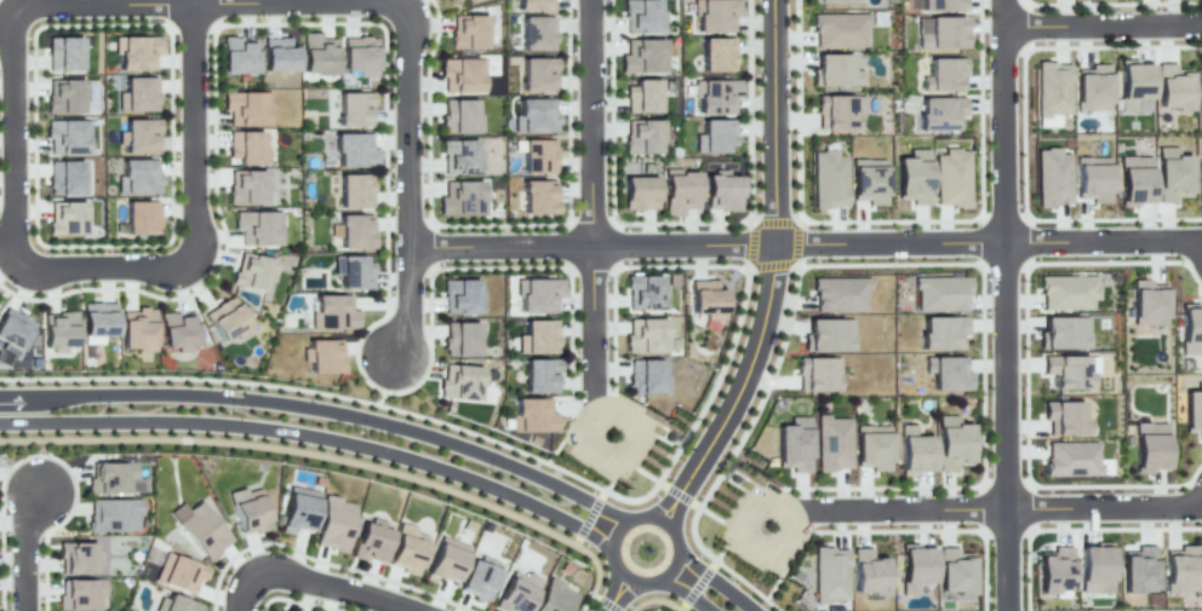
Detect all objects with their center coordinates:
building: (453, 1)
building: (835, 1)
road: (176, 2)
road: (195, 2)
road: (285, 2)
road: (1114, 4)
road: (87, 5)
building: (532, 5)
building: (941, 5)
road: (1004, 11)
building: (712, 16)
building: (641, 17)
road: (1103, 27)
building: (838, 29)
building: (944, 31)
building: (468, 33)
building: (537, 33)
building: (137, 52)
building: (63, 53)
building: (316, 53)
building: (277, 54)
building: (359, 54)
building: (716, 54)
building: (237, 56)
building: (642, 56)
building: (834, 70)
building: (944, 73)
building: (462, 74)
building: (537, 75)
building: (1132, 83)
building: (1201, 85)
building: (1172, 87)
building: (1092, 88)
building: (1051, 92)
building: (64, 94)
building: (137, 94)
building: (642, 96)
building: (715, 96)
building: (245, 106)
building: (355, 106)
building: (837, 110)
building: (940, 111)
building: (536, 115)
building: (459, 116)
road: (407, 120)
road: (589, 122)
road: (774, 122)
road: (1006, 132)
road: (1025, 132)
building: (139, 134)
building: (67, 136)
building: (643, 136)
building: (714, 136)
road: (185, 137)
building: (246, 146)
building: (355, 148)
building: (459, 156)
building: (536, 156)
building: (1173, 173)
building: (915, 175)
building: (954, 175)
building: (1053, 175)
building: (138, 177)
building: (1093, 177)
building: (64, 178)
building: (1135, 179)
building: (828, 180)
building: (868, 180)
building: (1201, 180)
building: (246, 186)
building: (355, 189)
building: (639, 192)
building: (679, 192)
building: (721, 192)
building: (538, 196)
building: (460, 198)
building: (67, 218)
building: (139, 218)
road: (889, 220)
road: (681, 221)
road: (498, 224)
building: (256, 226)
building: (355, 229)
road: (387, 241)
road: (795, 241)
road: (1104, 241)
road: (891, 242)
road: (162, 243)
road: (755, 243)
road: (500, 244)
road: (683, 244)
road: (894, 264)
road: (95, 269)
building: (251, 271)
building: (354, 271)
road: (1026, 287)
road: (96, 288)
building: (642, 292)
building: (1068, 292)
building: (939, 293)
building: (537, 294)
building: (840, 295)
building: (460, 296)
road: (410, 299)
building: (705, 299)
building: (1149, 301)
building: (334, 311)
building: (228, 318)
building: (97, 319)
road: (591, 322)
building: (1191, 328)
building: (13, 329)
building: (178, 329)
building: (138, 330)
building: (941, 330)
building: (59, 332)
building: (828, 333)
building: (1064, 333)
building: (538, 335)
building: (647, 335)
building: (459, 339)
building: (324, 353)
building: (1066, 371)
building: (946, 373)
building: (542, 374)
building: (817, 374)
building: (645, 376)
road: (98, 377)
building: (459, 384)
road: (740, 390)
road: (324, 408)
building: (1192, 409)
building: (533, 414)
building: (1064, 419)
road: (1004, 426)
road: (315, 436)
road: (99, 439)
building: (834, 440)
building: (954, 442)
building: (791, 444)
building: (874, 445)
building: (1149, 445)
building: (916, 449)
road: (44, 459)
building: (1071, 460)
road: (647, 474)
building: (110, 477)
road: (431, 483)
road: (657, 484)
road: (1127, 484)
road: (679, 494)
road: (1103, 503)
road: (904, 506)
building: (250, 509)
building: (297, 509)
road: (710, 513)
building: (113, 514)
road: (589, 517)
building: (333, 524)
road: (1076, 528)
building: (199, 529)
road: (934, 530)
building: (370, 540)
road: (609, 546)
building: (406, 549)
building: (642, 549)
road: (719, 553)
road: (29, 554)
building: (78, 555)
building: (445, 560)
building: (914, 567)
road: (355, 569)
building: (1094, 569)
building: (1138, 569)
building: (1180, 569)
building: (866, 571)
building: (954, 572)
building: (1055, 572)
building: (178, 573)
building: (829, 576)
road: (217, 577)
road: (716, 580)
building: (477, 581)
road: (697, 584)
road: (772, 587)
road: (246, 588)
road: (340, 588)
building: (516, 592)
road: (686, 592)
building: (80, 593)
road: (614, 593)
road: (595, 596)
building: (551, 598)
road: (656, 599)
road: (299, 601)
building: (176, 604)
road: (609, 604)

